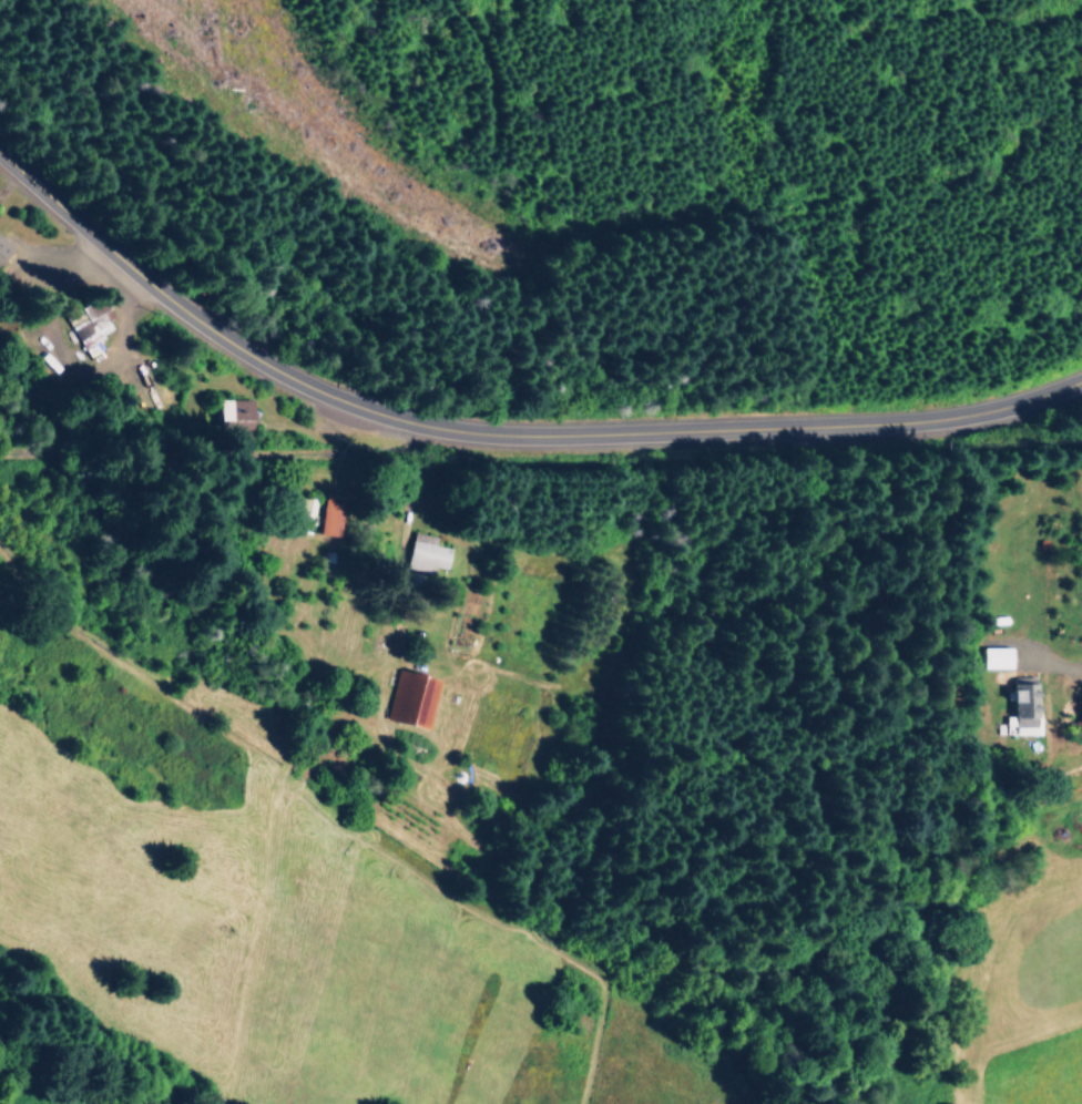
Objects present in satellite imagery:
building: (3, 248)
building: (88, 325)
building: (234, 415)
road: (503, 440)
building: (329, 514)
building: (425, 553)
building: (993, 657)
road: (1057, 669)
building: (410, 699)
building: (1022, 706)

